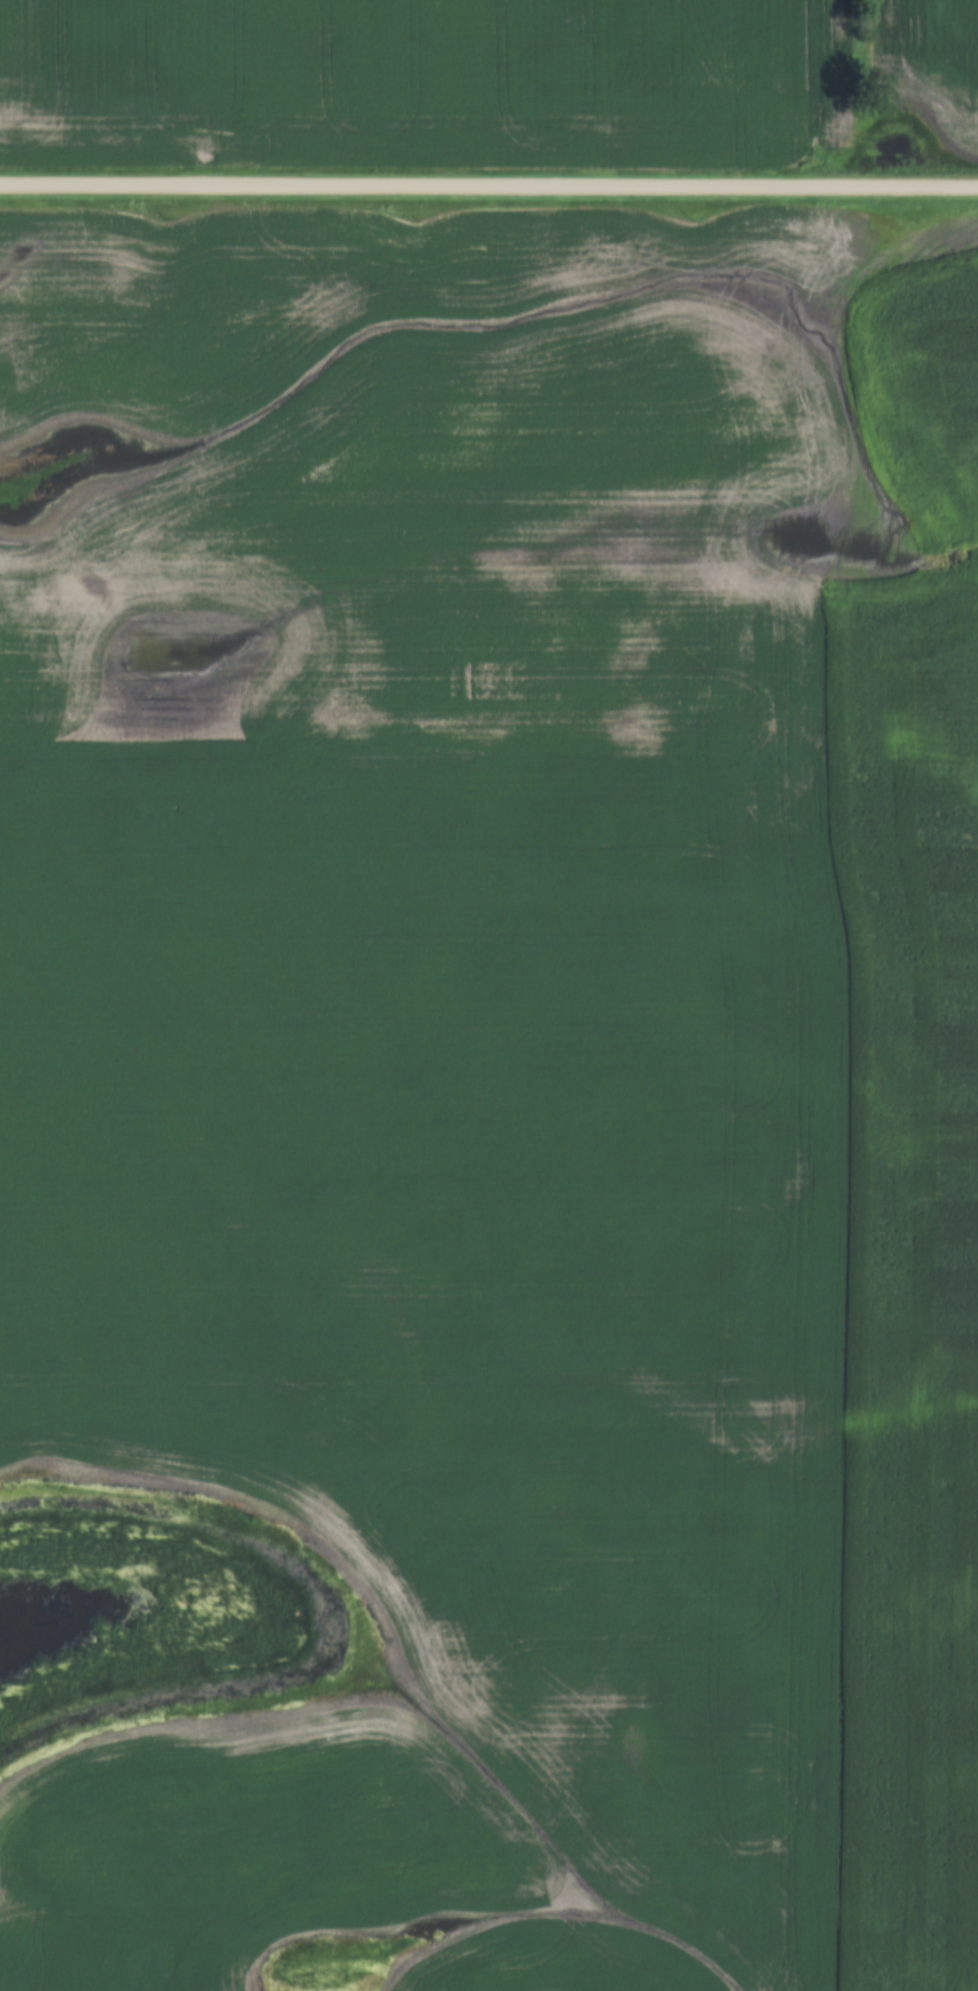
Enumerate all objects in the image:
road: (489, 189)

